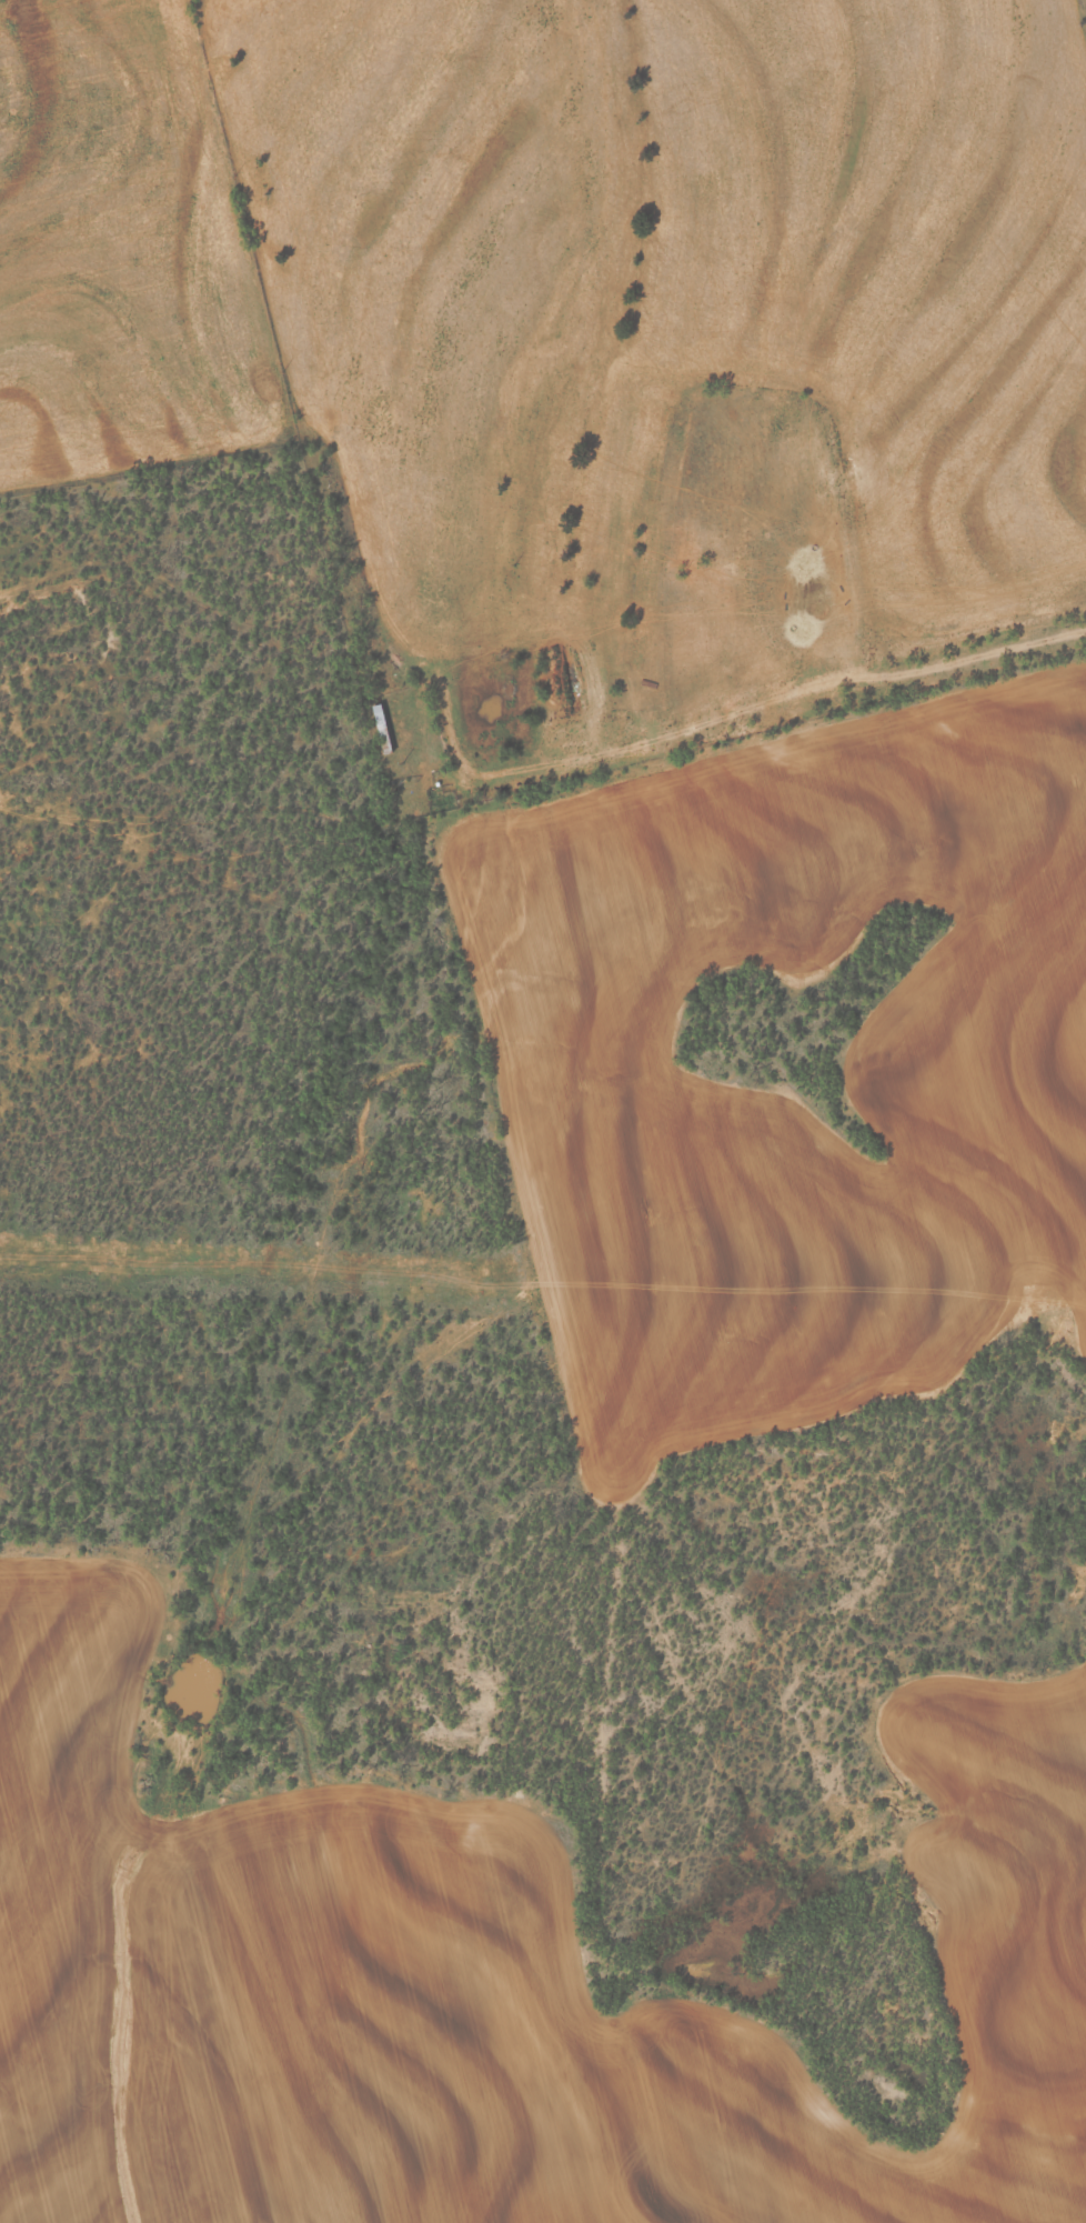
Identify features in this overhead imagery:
building: (383, 728)

